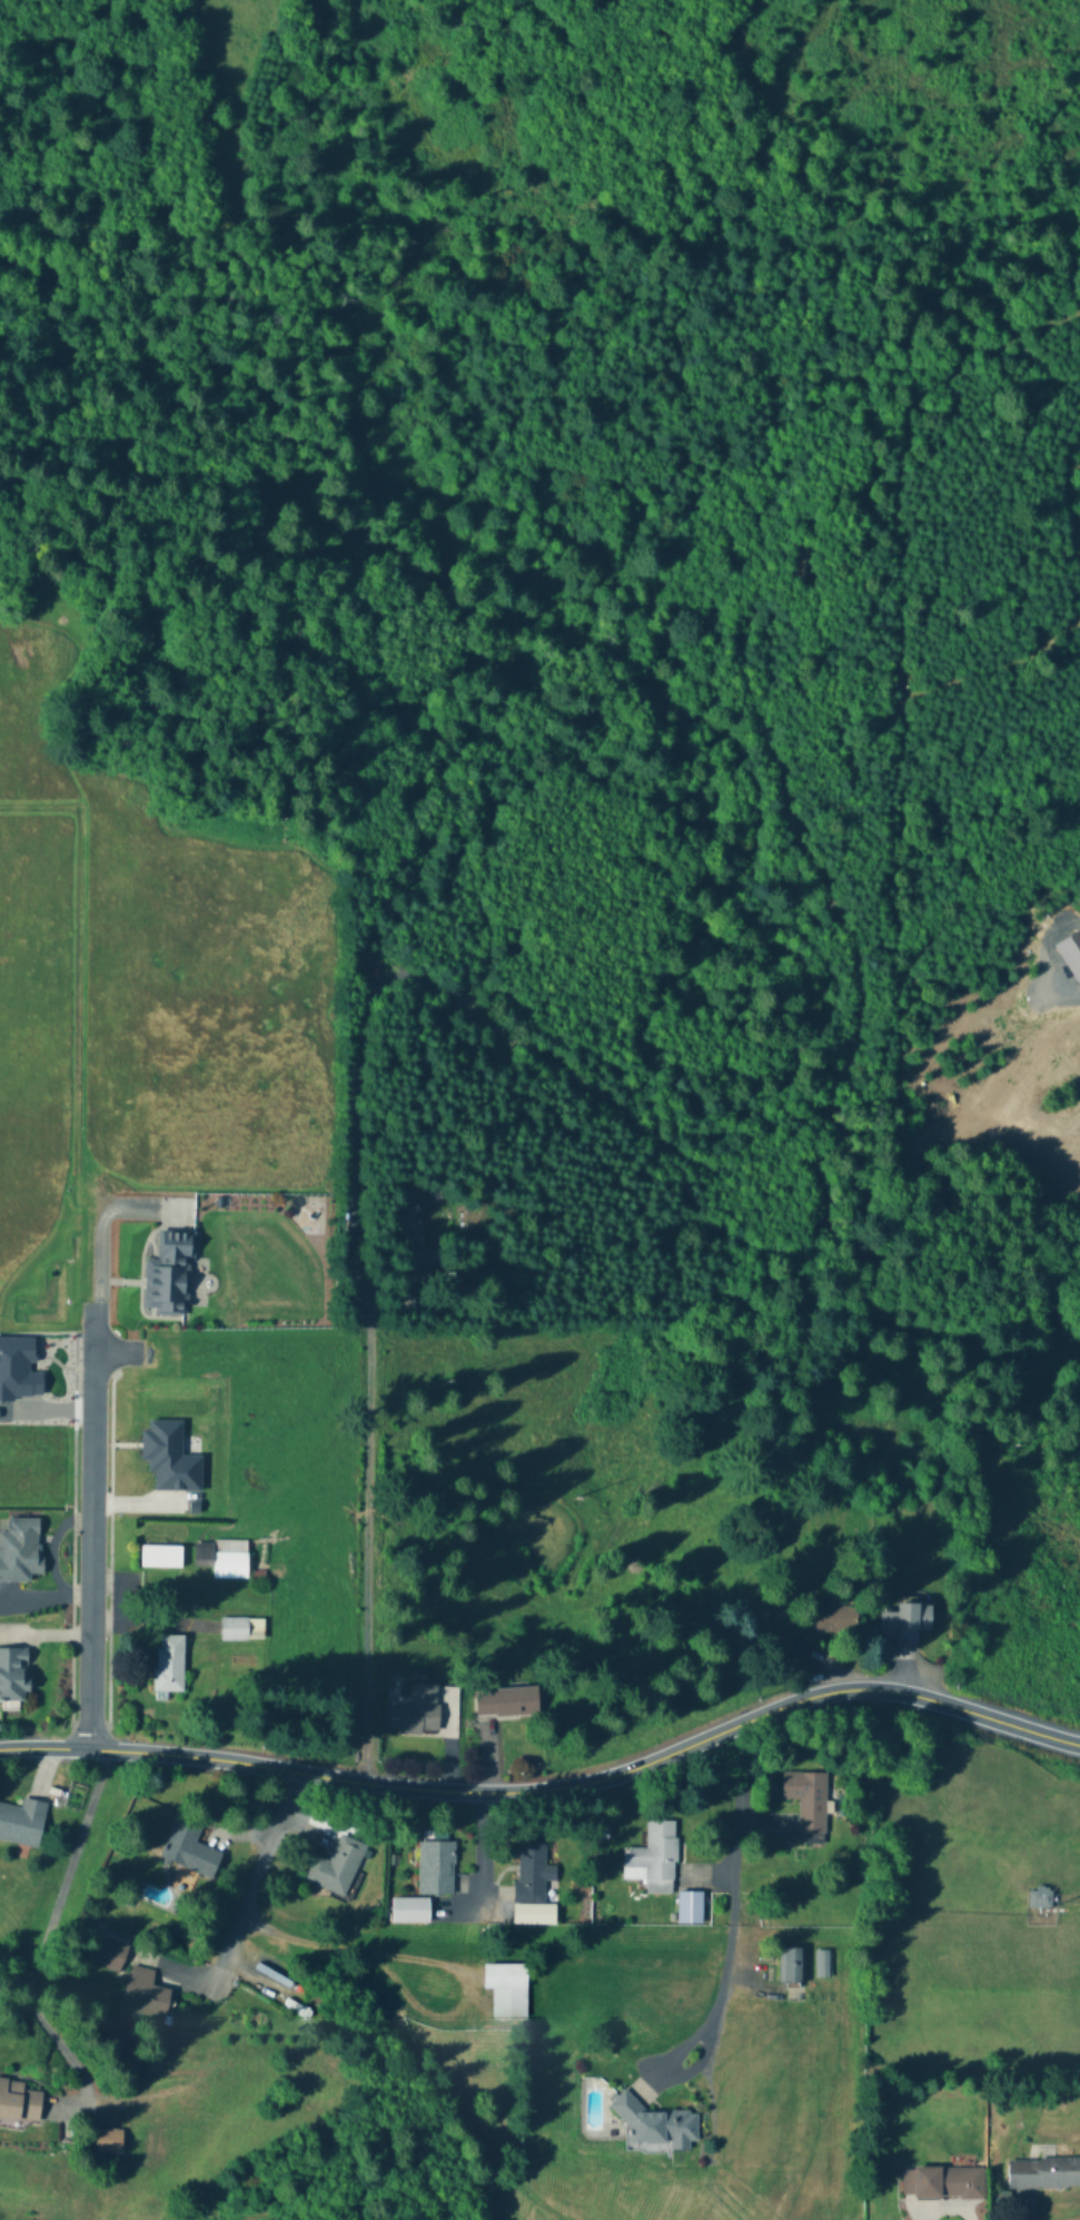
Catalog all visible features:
building: (910, 679)
building: (404, 1197)
building: (408, 1230)
building: (419, 1260)
building: (168, 1274)
building: (170, 1458)
road: (91, 1526)
road: (368, 1531)
building: (20, 1549)
building: (167, 1556)
building: (222, 1557)
building: (839, 1620)
building: (906, 1624)
building: (240, 1628)
building: (168, 1662)
building: (13, 1674)
building: (506, 1703)
building: (416, 1711)
road: (551, 1789)
building: (807, 1799)
building: (22, 1822)
building: (189, 1846)
road: (734, 1848)
building: (653, 1859)
building: (337, 1866)
building: (435, 1867)
road: (255, 1869)
building: (532, 1874)
building: (1039, 1900)
building: (688, 1908)
building: (410, 1910)
road: (42, 1933)
road: (336, 1946)
building: (111, 1950)
building: (822, 1965)
building: (791, 1966)
building: (507, 1991)
building: (146, 1995)
road: (697, 2023)
building: (19, 2103)
building: (657, 2124)
building: (109, 2142)
building: (1043, 2174)
building: (942, 2183)

